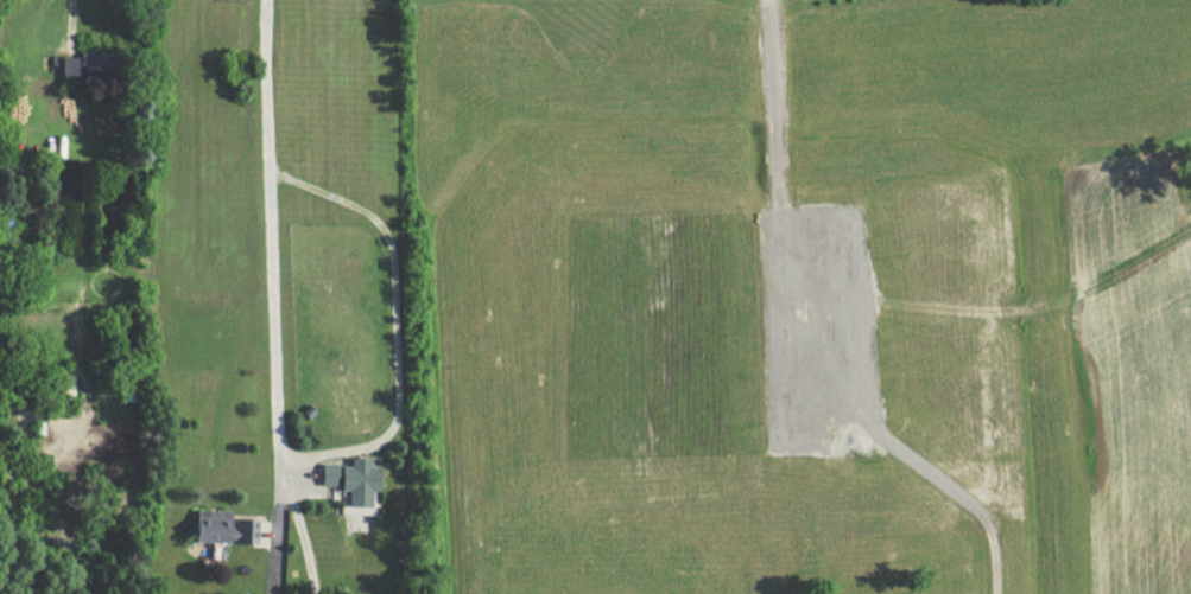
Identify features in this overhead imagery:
road: (68, 24)
building: (87, 66)
road: (267, 243)
road: (393, 320)
building: (64, 391)
building: (354, 479)
building: (226, 526)
road: (273, 539)

